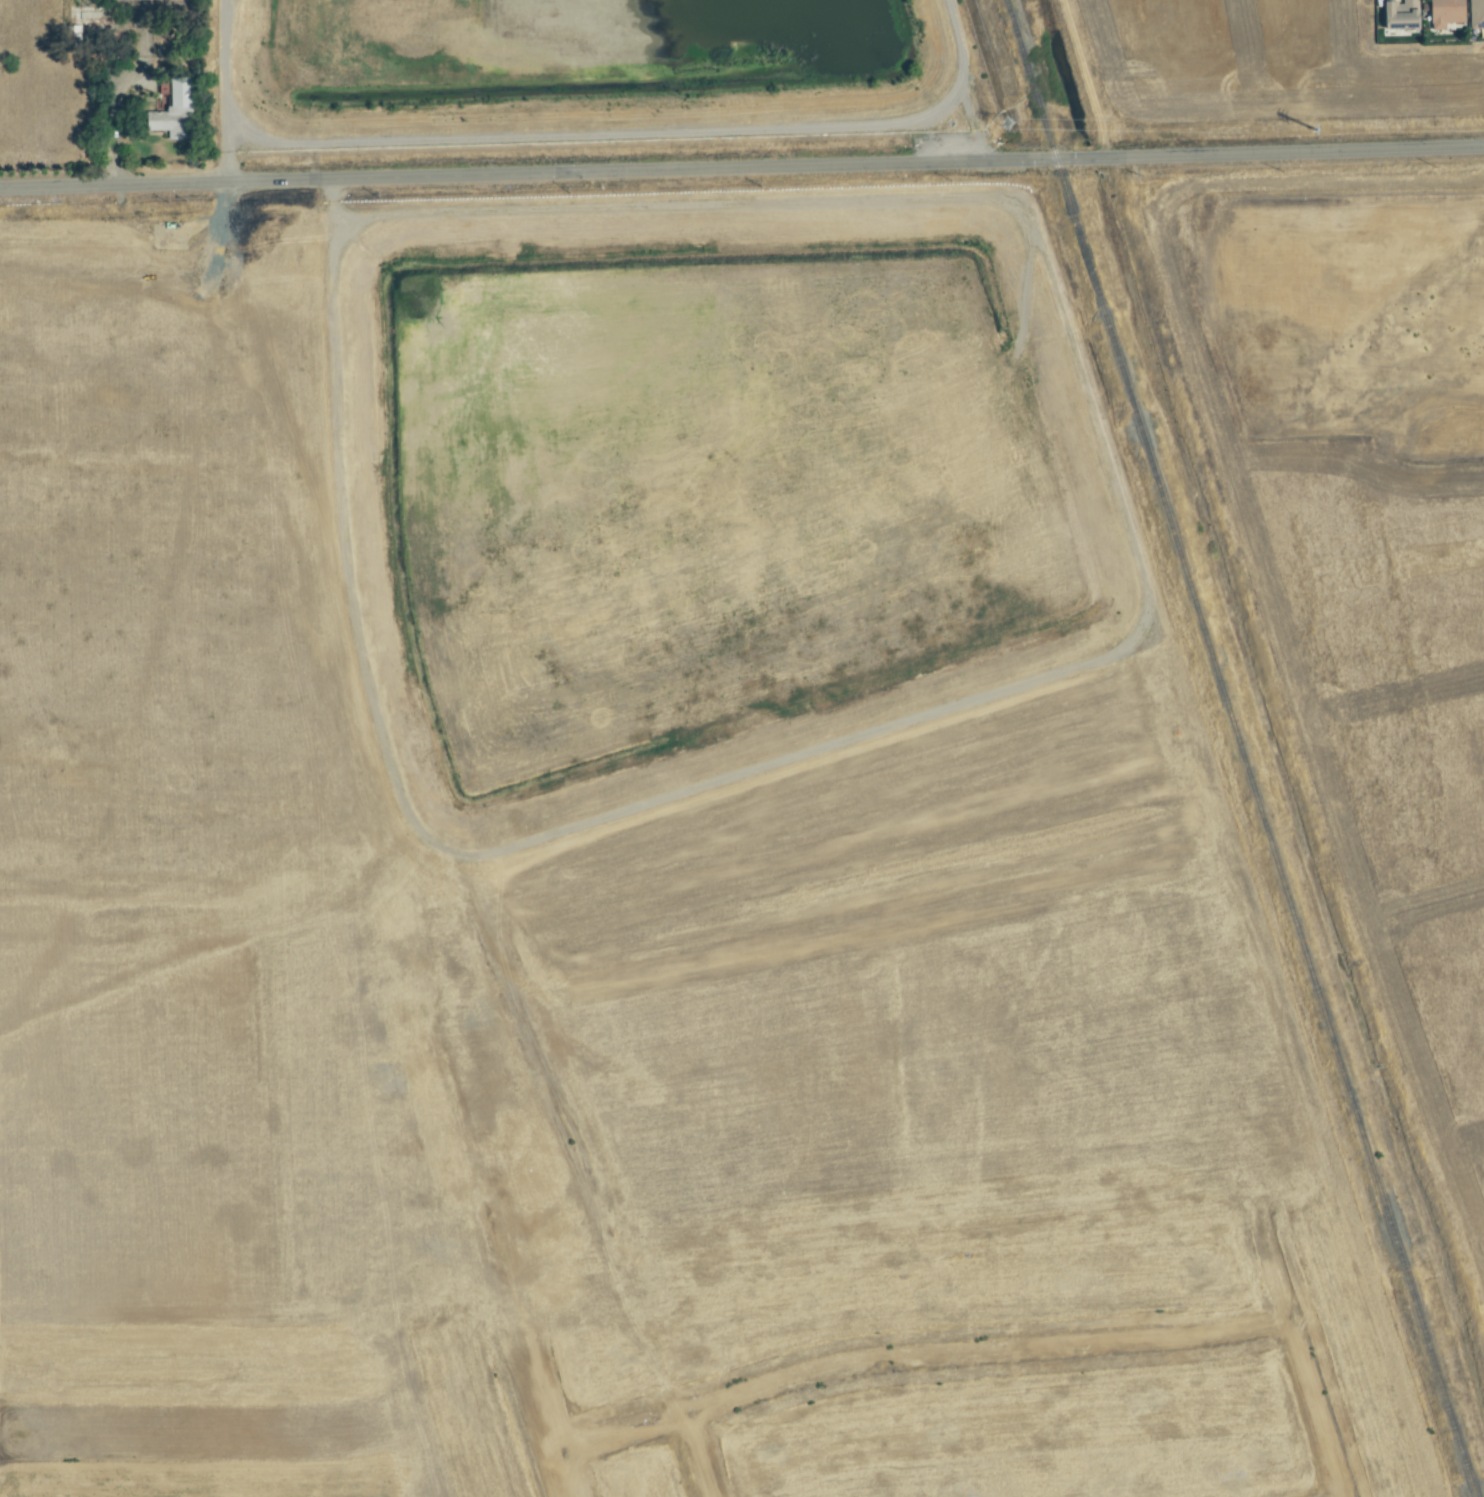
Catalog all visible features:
building: (1443, 13)
building: (1475, 14)
building: (1397, 17)
building: (171, 110)
power tower: (1005, 125)
power tower: (1323, 131)
road: (741, 168)
railway: (1234, 733)
railway: (1469, 1481)

